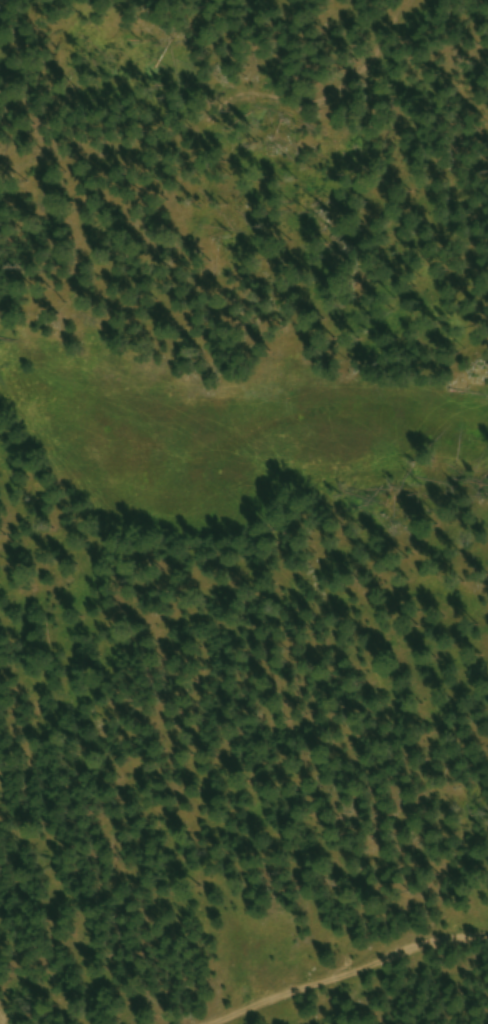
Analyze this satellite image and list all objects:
road: (346, 975)

